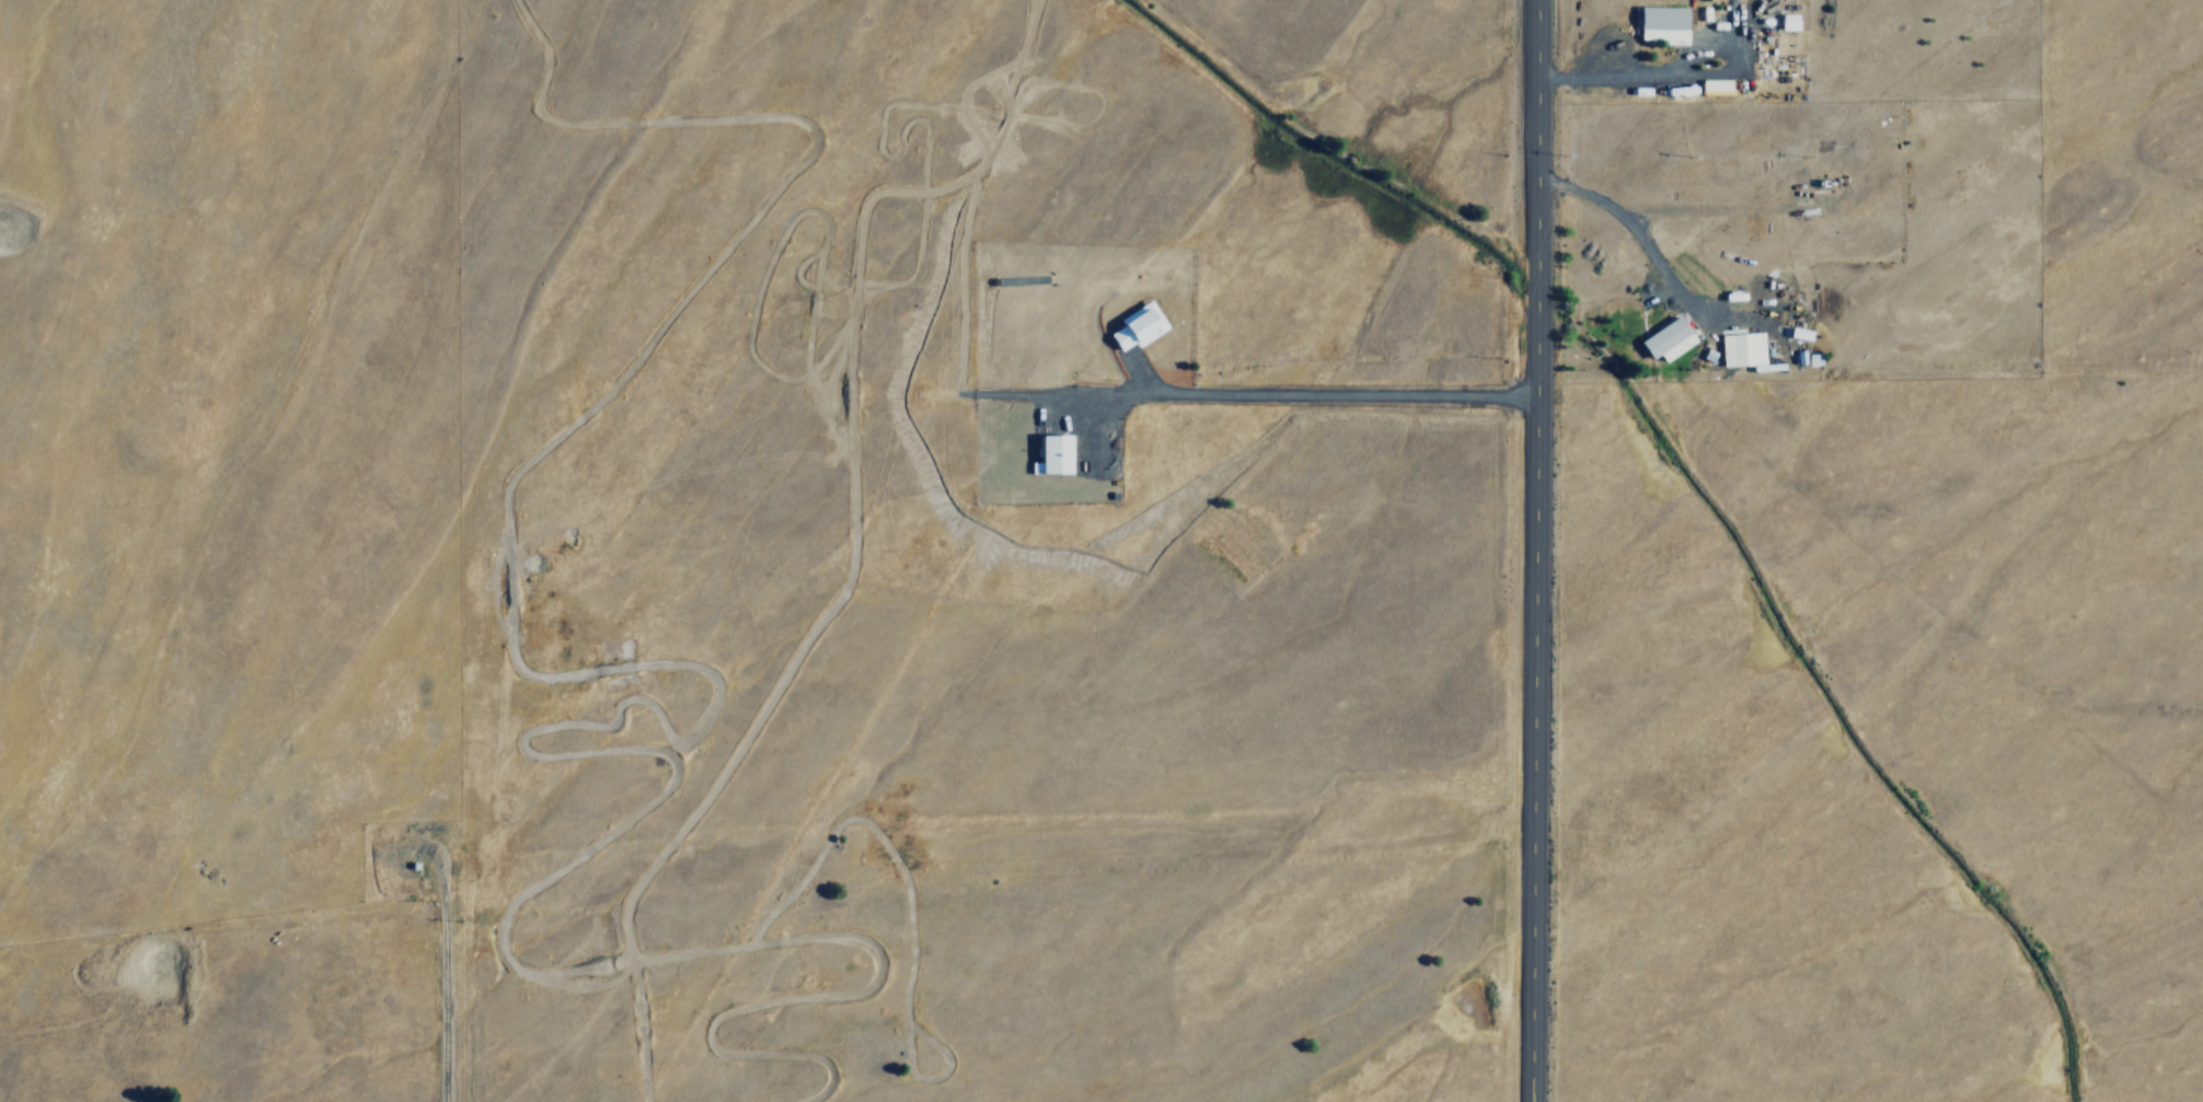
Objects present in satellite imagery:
building: (1658, 19)
building: (1790, 22)
building: (1717, 88)
building: (1134, 324)
building: (1666, 336)
building: (1740, 347)
road: (1323, 393)
building: (1051, 452)
road: (1535, 550)

